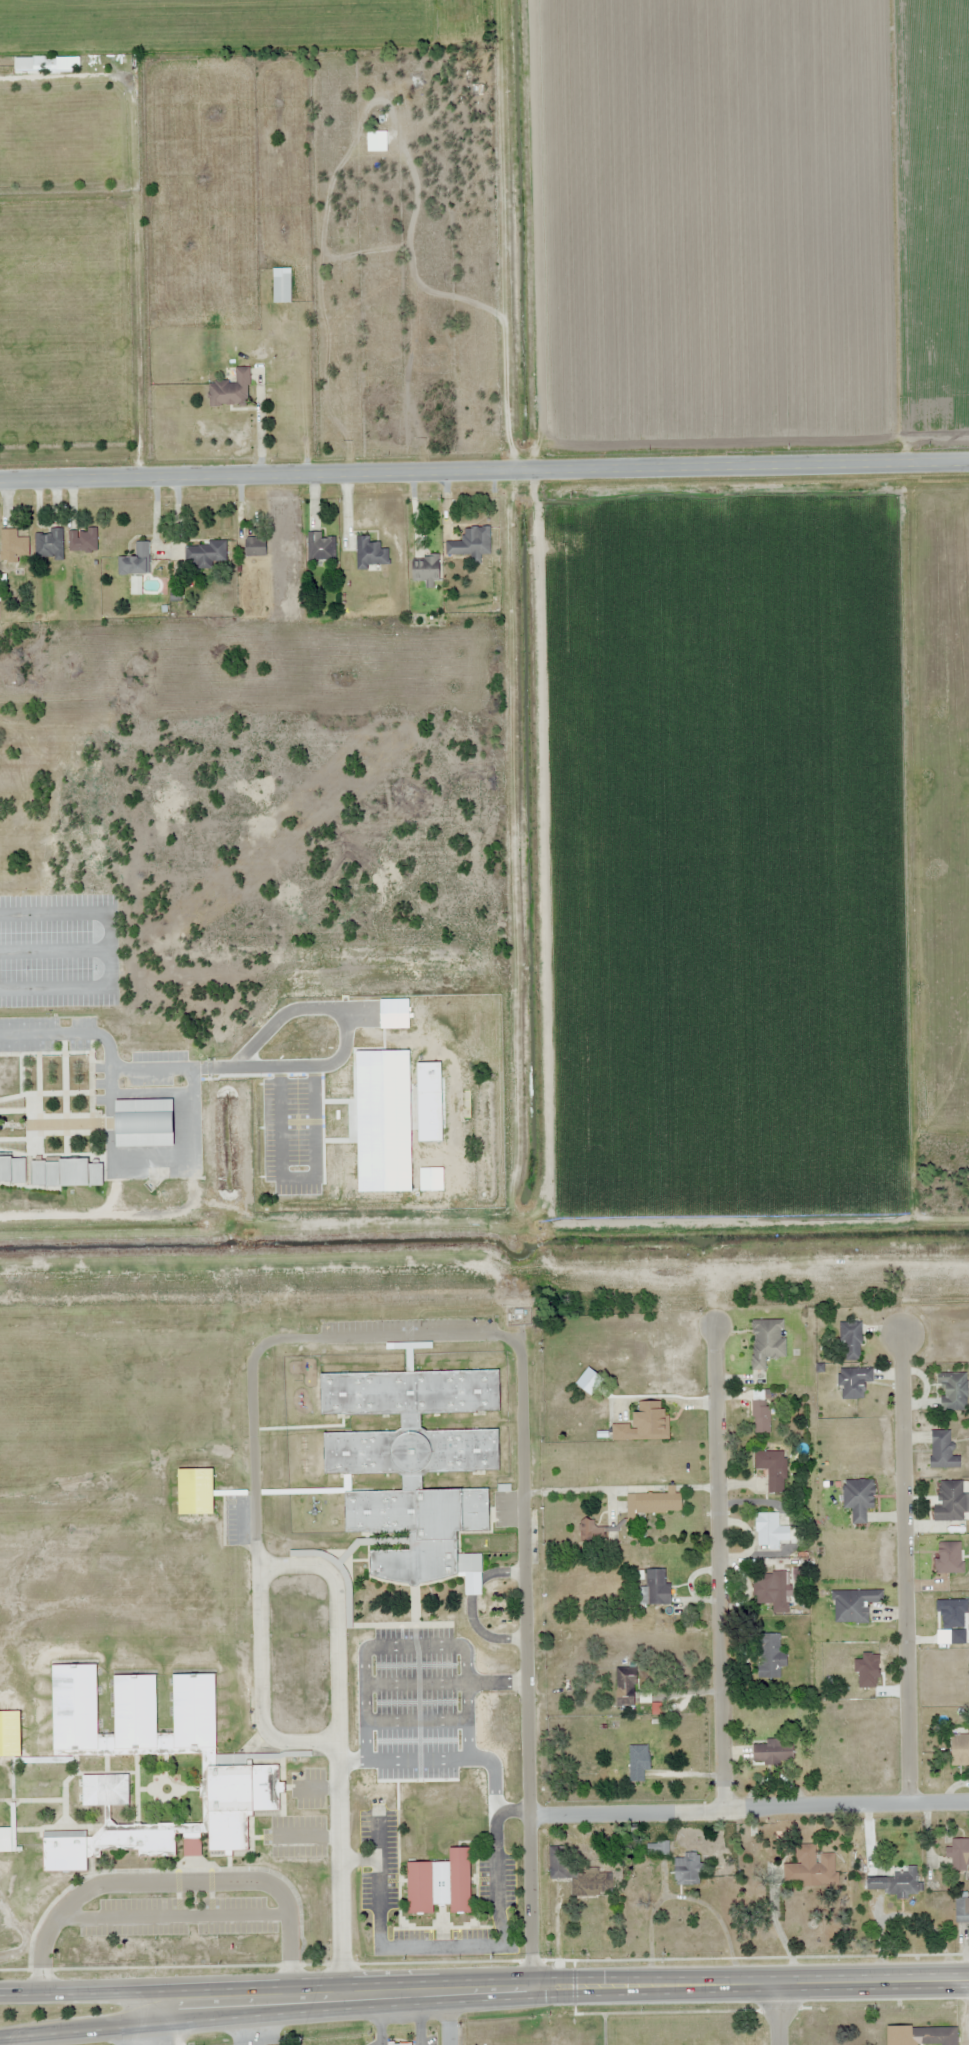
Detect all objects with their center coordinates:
building: (281, 285)
building: (231, 390)
road: (484, 478)
building: (82, 539)
building: (471, 543)
building: (48, 544)
building: (14, 546)
building: (256, 546)
building: (321, 548)
building: (370, 553)
building: (205, 554)
building: (136, 560)
building: (145, 1123)
building: (12, 1170)
building: (66, 1173)
railway: (484, 1292)
building: (851, 1341)
building: (767, 1342)
building: (854, 1382)
building: (953, 1391)
building: (761, 1411)
building: (645, 1423)
building: (942, 1450)
building: (414, 1466)
building: (773, 1469)
building: (196, 1492)
building: (858, 1498)
building: (951, 1501)
building: (653, 1504)
building: (771, 1531)
building: (591, 1532)
road: (904, 1567)
road: (718, 1568)
building: (655, 1588)
building: (771, 1589)
building: (854, 1605)
building: (770, 1656)
road: (526, 1665)
building: (626, 1687)
building: (10, 1733)
building: (960, 1749)
building: (773, 1753)
building: (638, 1762)
building: (244, 1768)
road: (749, 1810)
building: (5, 1839)
building: (657, 1848)
building: (958, 1851)
building: (811, 1866)
building: (687, 1869)
building: (577, 1875)
building: (896, 1881)
building: (440, 1883)
building: (961, 1910)
road: (801, 1983)
road: (131, 1991)
road: (448, 1991)
road: (778, 2014)
road: (131, 2018)
road: (449, 2018)
building: (921, 2035)
building: (400, 2043)

